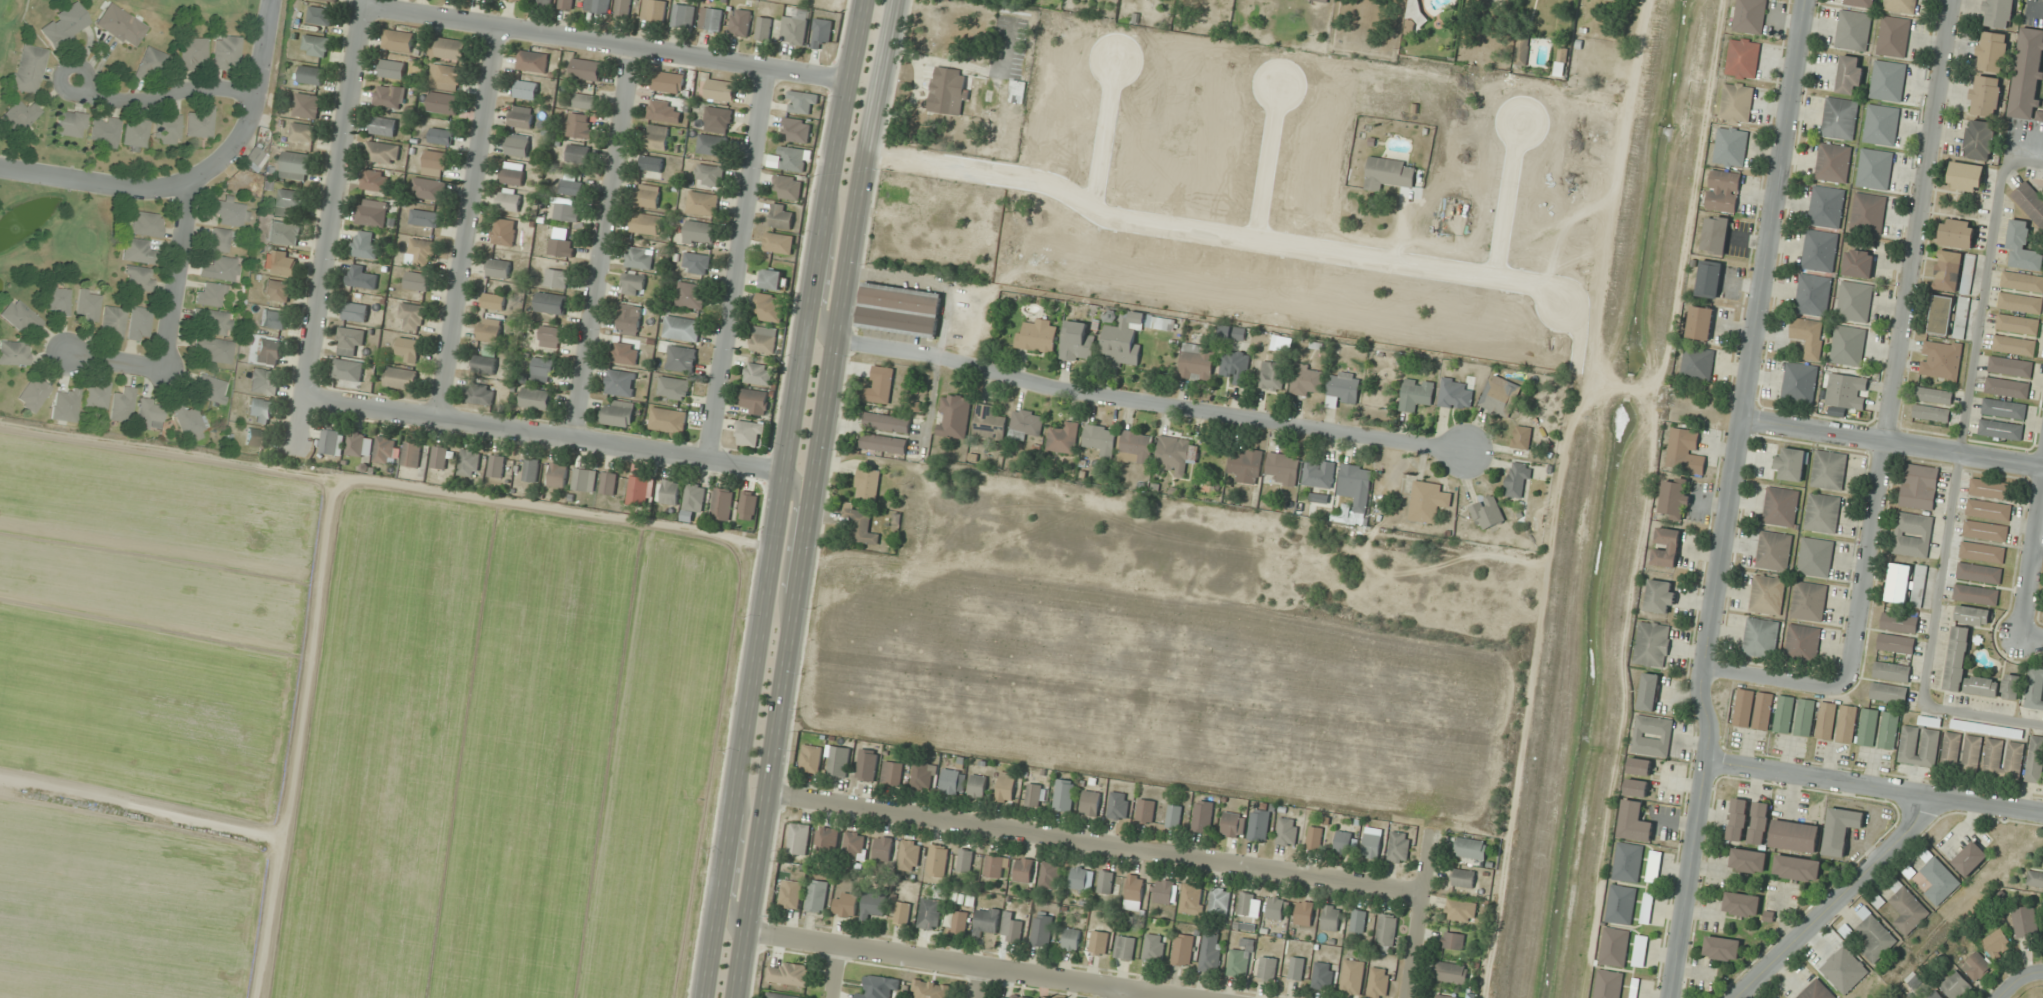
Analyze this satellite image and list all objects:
building: (333, 0)
building: (521, 0)
building: (1321, 1)
building: (545, 3)
building: (1861, 3)
building: (566, 4)
building: (601, 6)
building: (1900, 6)
building: (623, 9)
building: (654, 10)
building: (1998, 13)
building: (321, 15)
building: (683, 15)
building: (1750, 16)
building: (711, 19)
building: (740, 22)
building: (64, 25)
building: (121, 26)
building: (764, 28)
building: (794, 28)
building: (1853, 30)
building: (822, 32)
building: (1893, 36)
building: (398, 40)
road: (605, 41)
building: (316, 45)
building: (449, 48)
building: (193, 51)
building: (226, 52)
building: (1992, 52)
building: (1743, 58)
building: (533, 61)
building: (149, 64)
building: (28, 69)
building: (393, 69)
building: (586, 69)
building: (312, 75)
building: (1850, 75)
building: (449, 77)
building: (1888, 81)
building: (668, 82)
building: (526, 90)
building: (721, 90)
building: (949, 90)
building: (1017, 91)
building: (1985, 95)
road: (163, 96)
building: (389, 96)
building: (585, 100)
building: (802, 102)
building: (1737, 102)
building: (444, 103)
building: (307, 105)
building: (665, 111)
building: (23, 115)
building: (522, 117)
building: (1840, 118)
building: (718, 119)
building: (200, 123)
building: (70, 124)
building: (577, 125)
building: (1881, 125)
building: (384, 126)
building: (167, 129)
building: (798, 129)
building: (105, 130)
building: (302, 132)
building: (137, 133)
building: (442, 136)
building: (657, 137)
building: (1979, 139)
building: (712, 144)
building: (518, 145)
building: (1731, 146)
building: (383, 152)
building: (578, 153)
building: (792, 158)
building: (255, 159)
building: (1833, 162)
building: (436, 163)
building: (652, 163)
building: (296, 165)
building: (1874, 169)
building: (513, 173)
building: (1389, 173)
road: (198, 174)
building: (709, 175)
building: (1966, 177)
building: (376, 180)
road: (95, 183)
building: (572, 184)
building: (788, 186)
building: (429, 188)
building: (1723, 190)
building: (648, 195)
building: (510, 199)
building: (290, 201)
building: (702, 203)
building: (1826, 206)
building: (567, 212)
building: (1868, 212)
building: (232, 213)
building: (372, 215)
building: (782, 216)
building: (425, 217)
road: (469, 219)
road: (330, 221)
building: (646, 223)
building: (146, 224)
building: (504, 231)
building: (699, 231)
building: (285, 232)
building: (1957, 233)
building: (1715, 234)
building: (217, 239)
road: (602, 240)
building: (779, 243)
building: (365, 245)
building: (562, 247)
building: (2022, 247)
building: (137, 251)
building: (1820, 251)
building: (421, 252)
building: (639, 257)
road: (738, 260)
building: (280, 262)
building: (696, 263)
building: (1859, 263)
building: (499, 268)
building: (221, 269)
building: (1948, 271)
building: (1968, 273)
building: (361, 276)
building: (139, 277)
building: (558, 278)
road: (826, 278)
building: (772, 279)
building: (1709, 279)
building: (418, 280)
building: (2022, 281)
building: (633, 284)
building: (278, 290)
building: (210, 294)
building: (691, 295)
building: (1813, 295)
building: (58, 299)
building: (494, 301)
building: (1854, 301)
building: (2020, 302)
building: (551, 303)
building: (88, 306)
building: (769, 307)
building: (899, 309)
building: (356, 311)
building: (413, 315)
building: (1941, 315)
building: (19, 316)
building: (629, 318)
building: (275, 319)
building: (113, 322)
building: (213, 322)
building: (1159, 322)
building: (1700, 323)
building: (139, 324)
building: (2017, 324)
building: (682, 328)
building: (490, 330)
building: (1235, 333)
building: (550, 336)
building: (1038, 336)
building: (1809, 336)
building: (764, 339)
building: (1123, 340)
building: (351, 341)
building: (1078, 342)
road: (1900, 343)
building: (1848, 345)
building: (2014, 345)
building: (408, 349)
building: (216, 350)
building: (270, 351)
building: (14, 353)
building: (626, 353)
building: (681, 359)
building: (1941, 360)
road: (116, 361)
building: (486, 361)
building: (1196, 361)
building: (1698, 362)
building: (1235, 366)
building: (2010, 366)
building: (543, 369)
building: (348, 372)
building: (759, 373)
building: (1272, 376)
building: (401, 378)
building: (1307, 380)
building: (262, 382)
building: (620, 382)
building: (1800, 382)
building: (880, 383)
building: (1343, 387)
building: (2007, 387)
building: (674, 388)
building: (211, 389)
building: (1846, 391)
building: (33, 394)
building: (480, 394)
building: (1416, 394)
building: (1455, 394)
building: (96, 395)
building: (1500, 395)
building: (1934, 395)
building: (536, 398)
building: (755, 401)
building: (122, 404)
building: (65, 405)
road: (1150, 405)
building: (2004, 409)
building: (261, 411)
building: (618, 413)
building: (1931, 413)
building: (149, 414)
building: (954, 416)
building: (668, 420)
building: (887, 422)
building: (188, 423)
building: (989, 423)
building: (1025, 424)
road: (544, 429)
building: (2001, 429)
building: (750, 434)
building: (1521, 437)
building: (257, 438)
building: (1064, 438)
building: (1101, 439)
building: (332, 442)
road: (1892, 443)
building: (360, 444)
building: (885, 444)
building: (1135, 447)
building: (387, 449)
building: (1685, 452)
building: (1176, 453)
building: (412, 454)
building: (443, 458)
building: (469, 463)
building: (1791, 464)
building: (496, 466)
building: (1246, 466)
building: (1283, 468)
building: (531, 471)
building: (1319, 473)
building: (557, 475)
building: (585, 480)
building: (1518, 480)
building: (609, 483)
building: (867, 484)
building: (1356, 485)
building: (1919, 486)
building: (1990, 488)
building: (640, 491)
building: (670, 492)
building: (1825, 492)
building: (694, 498)
road: (779, 498)
road: (810, 498)
building: (1675, 498)
road: (1729, 499)
building: (1427, 501)
building: (722, 504)
building: (1780, 507)
building: (1988, 510)
building: (1487, 513)
building: (859, 525)
building: (1985, 531)
building: (1913, 535)
road: (789, 542)
building: (1666, 546)
building: (1773, 551)
building: (1982, 552)
building: (1816, 557)
road: (2033, 568)
building: (1979, 573)
building: (1906, 584)
building: (1767, 594)
building: (1975, 595)
building: (1660, 596)
building: (1809, 601)
building: (1973, 616)
building: (1899, 622)
road: (2033, 634)
building: (1761, 638)
building: (1652, 644)
building: (1802, 644)
building: (1896, 644)
building: (1957, 658)
building: (1891, 671)
road: (1773, 677)
building: (1982, 686)
building: (2011, 686)
building: (2034, 689)
building: (1649, 691)
building: (1888, 693)
building: (1743, 708)
building: (1763, 710)
building: (1784, 714)
building: (1805, 717)
building: (1826, 721)
building: (1930, 721)
building: (1847, 724)
building: (1868, 727)
building: (1987, 729)
building: (1889, 730)
building: (1652, 736)
building: (1919, 746)
building: (1961, 752)
building: (811, 758)
building: (2003, 759)
building: (2035, 759)
building: (839, 761)
building: (867, 765)
building: (1640, 766)
building: (892, 773)
building: (924, 775)
building: (950, 781)
building: (978, 786)
road: (1873, 786)
building: (1006, 787)
building: (1637, 787)
building: (1034, 794)
building: (1064, 795)
building: (1090, 802)
building: (1119, 806)
building: (1146, 811)
building: (1174, 816)
building: (1203, 816)
building: (1738, 819)
building: (1634, 822)
building: (1759, 823)
building: (1234, 824)
building: (1259, 825)
building: (1841, 830)
building: (1288, 831)
building: (1795, 836)
building: (799, 838)
building: (827, 838)
building: (1315, 838)
road: (1094, 842)
building: (1346, 842)
building: (1372, 843)
building: (854, 845)
building: (1399, 847)
building: (883, 848)
building: (1471, 848)
building: (909, 855)
building: (1969, 858)
road: (736, 860)
building: (937, 860)
building: (965, 860)
building: (1748, 860)
building: (1628, 862)
building: (996, 866)
building: (1653, 866)
building: (1797, 868)
building: (1023, 870)
building: (1051, 875)
building: (1082, 878)
building: (1464, 878)
building: (1938, 879)
building: (2035, 879)
building: (1106, 881)
building: (1134, 891)
building: (1164, 891)
building: (791, 894)
building: (817, 896)
building: (1190, 898)
road: (1837, 899)
building: (1219, 902)
building: (1246, 903)
building: (845, 904)
building: (1621, 904)
building: (1742, 904)
building: (873, 906)
building: (1907, 907)
building: (1277, 908)
building: (1647, 908)
building: (1461, 910)
building: (902, 913)
building: (929, 913)
building: (1305, 913)
road: (1419, 915)
building: (1331, 918)
building: (986, 920)
building: (1358, 920)
building: (956, 921)
building: (2025, 921)
building: (1011, 928)
building: (1386, 929)
building: (1042, 930)
building: (1874, 936)
building: (1071, 939)
building: (1453, 940)
building: (1099, 943)
building: (1996, 944)
building: (1125, 947)
building: (1614, 947)
building: (1154, 948)
building: (1722, 948)
building: (1183, 949)
building: (1211, 952)
building: (1241, 959)
road: (960, 963)
building: (1976, 966)
building: (1268, 968)
building: (1296, 968)
building: (1844, 970)
road: (837, 972)
building: (1452, 972)
building: (788, 973)
road: (2036, 973)
building: (1323, 976)
building: (1352, 977)
road: (979, 982)
building: (1379, 983)
road: (2012, 983)
building: (1608, 984)
building: (1955, 985)
building: (880, 987)
building: (1635, 988)
building: (930, 989)
building: (1817, 990)
road: (1122, 994)
building: (1935, 995)
building: (782, 996)
building: (1010, 996)
building: (1445, 996)

